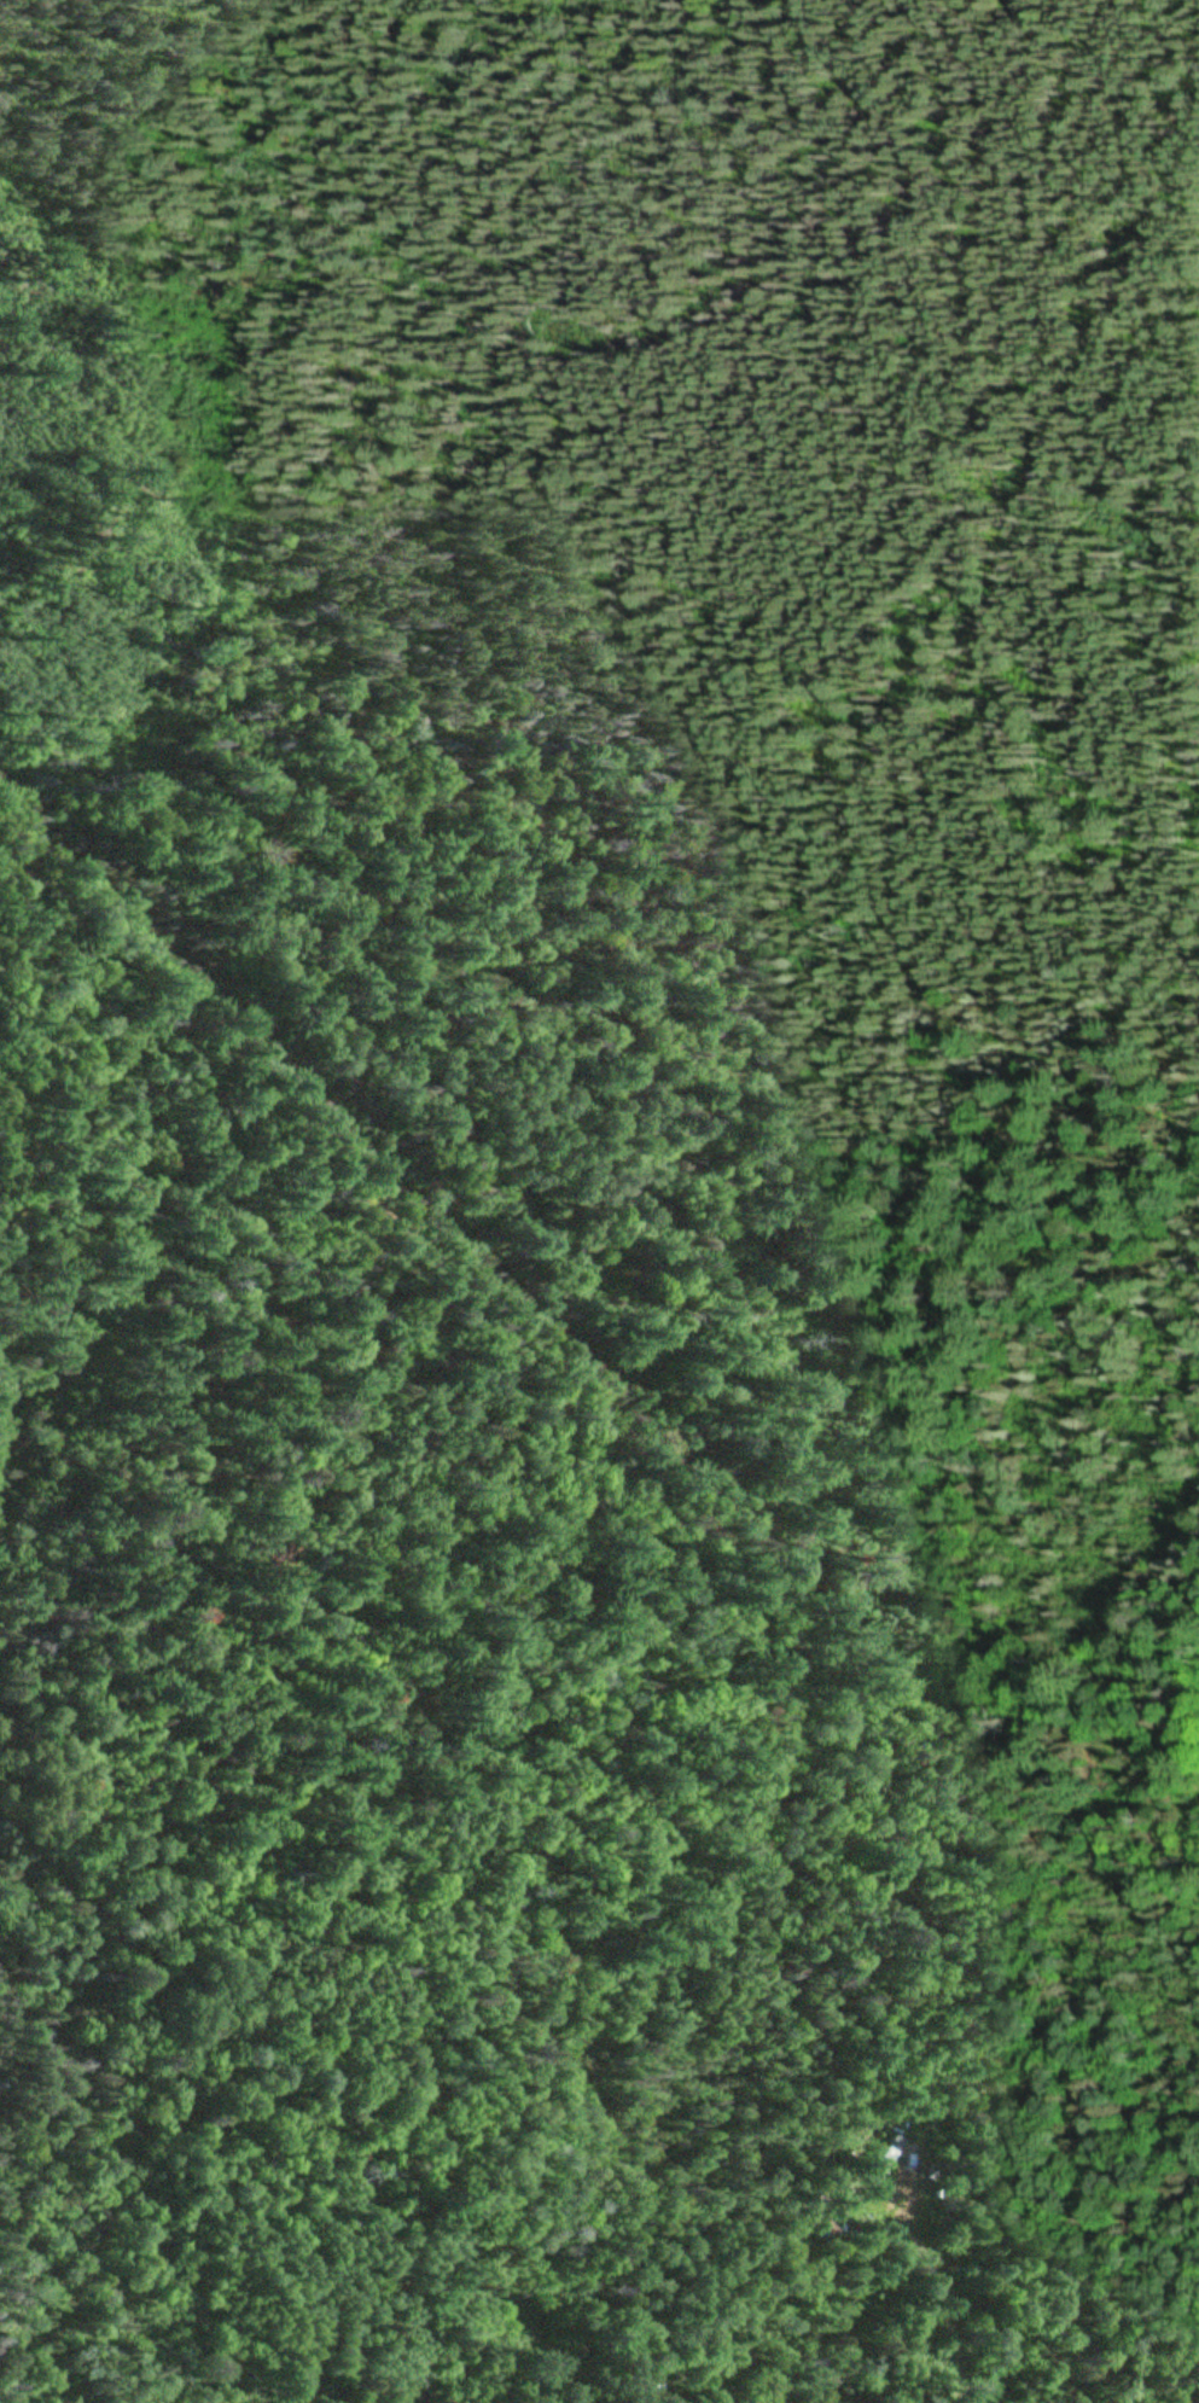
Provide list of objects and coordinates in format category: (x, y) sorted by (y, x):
building: (819, 2230)

